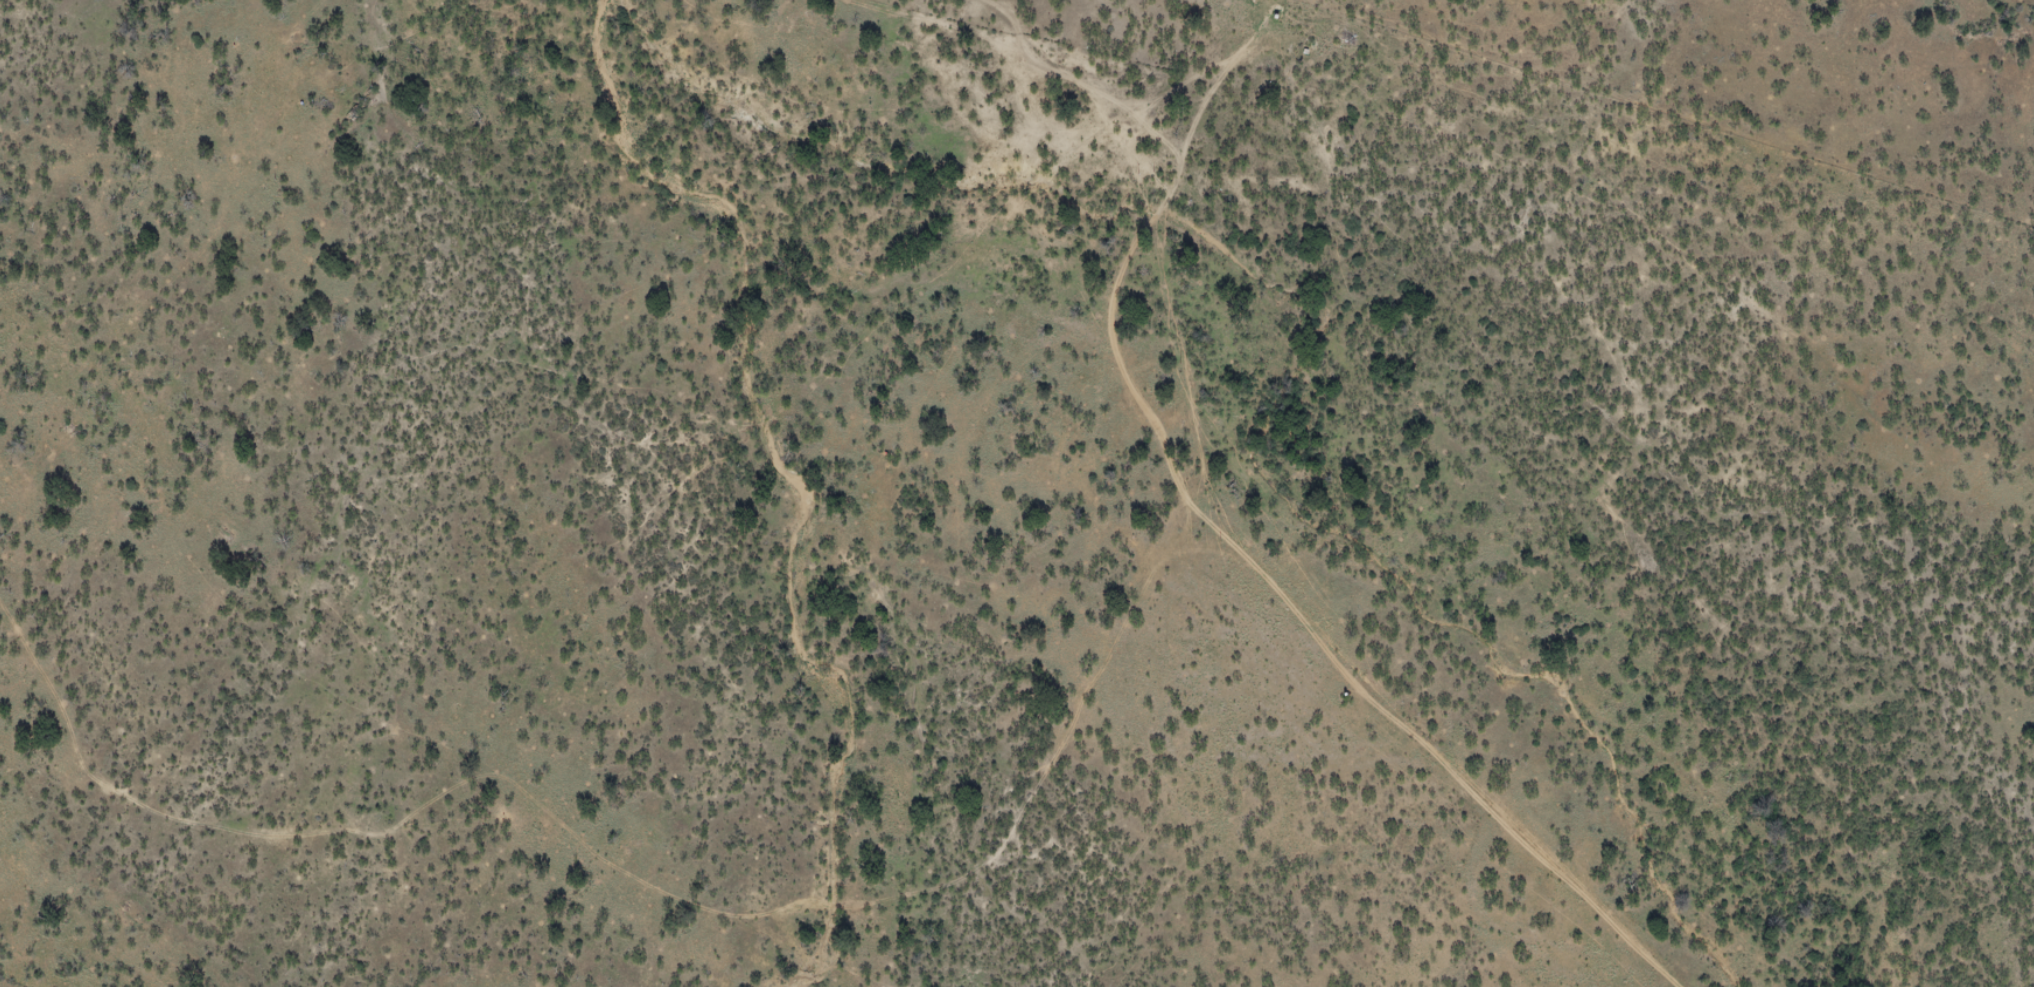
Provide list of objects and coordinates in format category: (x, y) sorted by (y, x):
road: (1264, 577)

